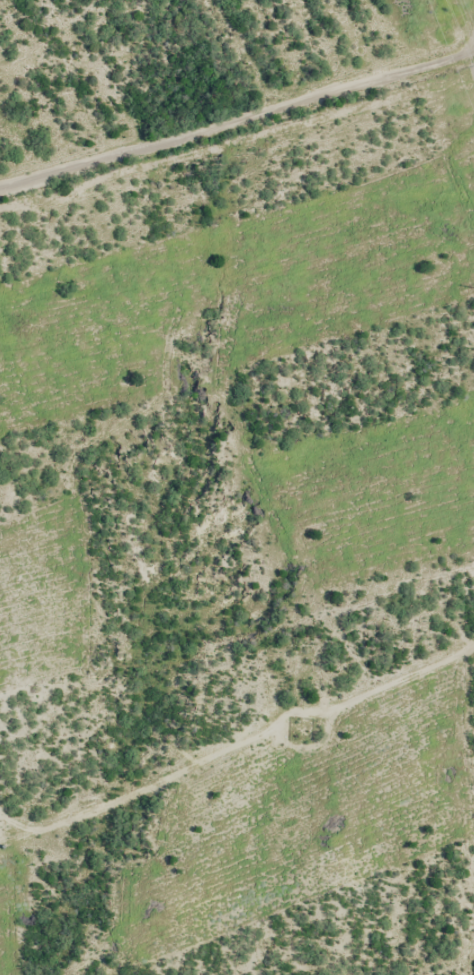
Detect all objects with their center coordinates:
road: (237, 149)

